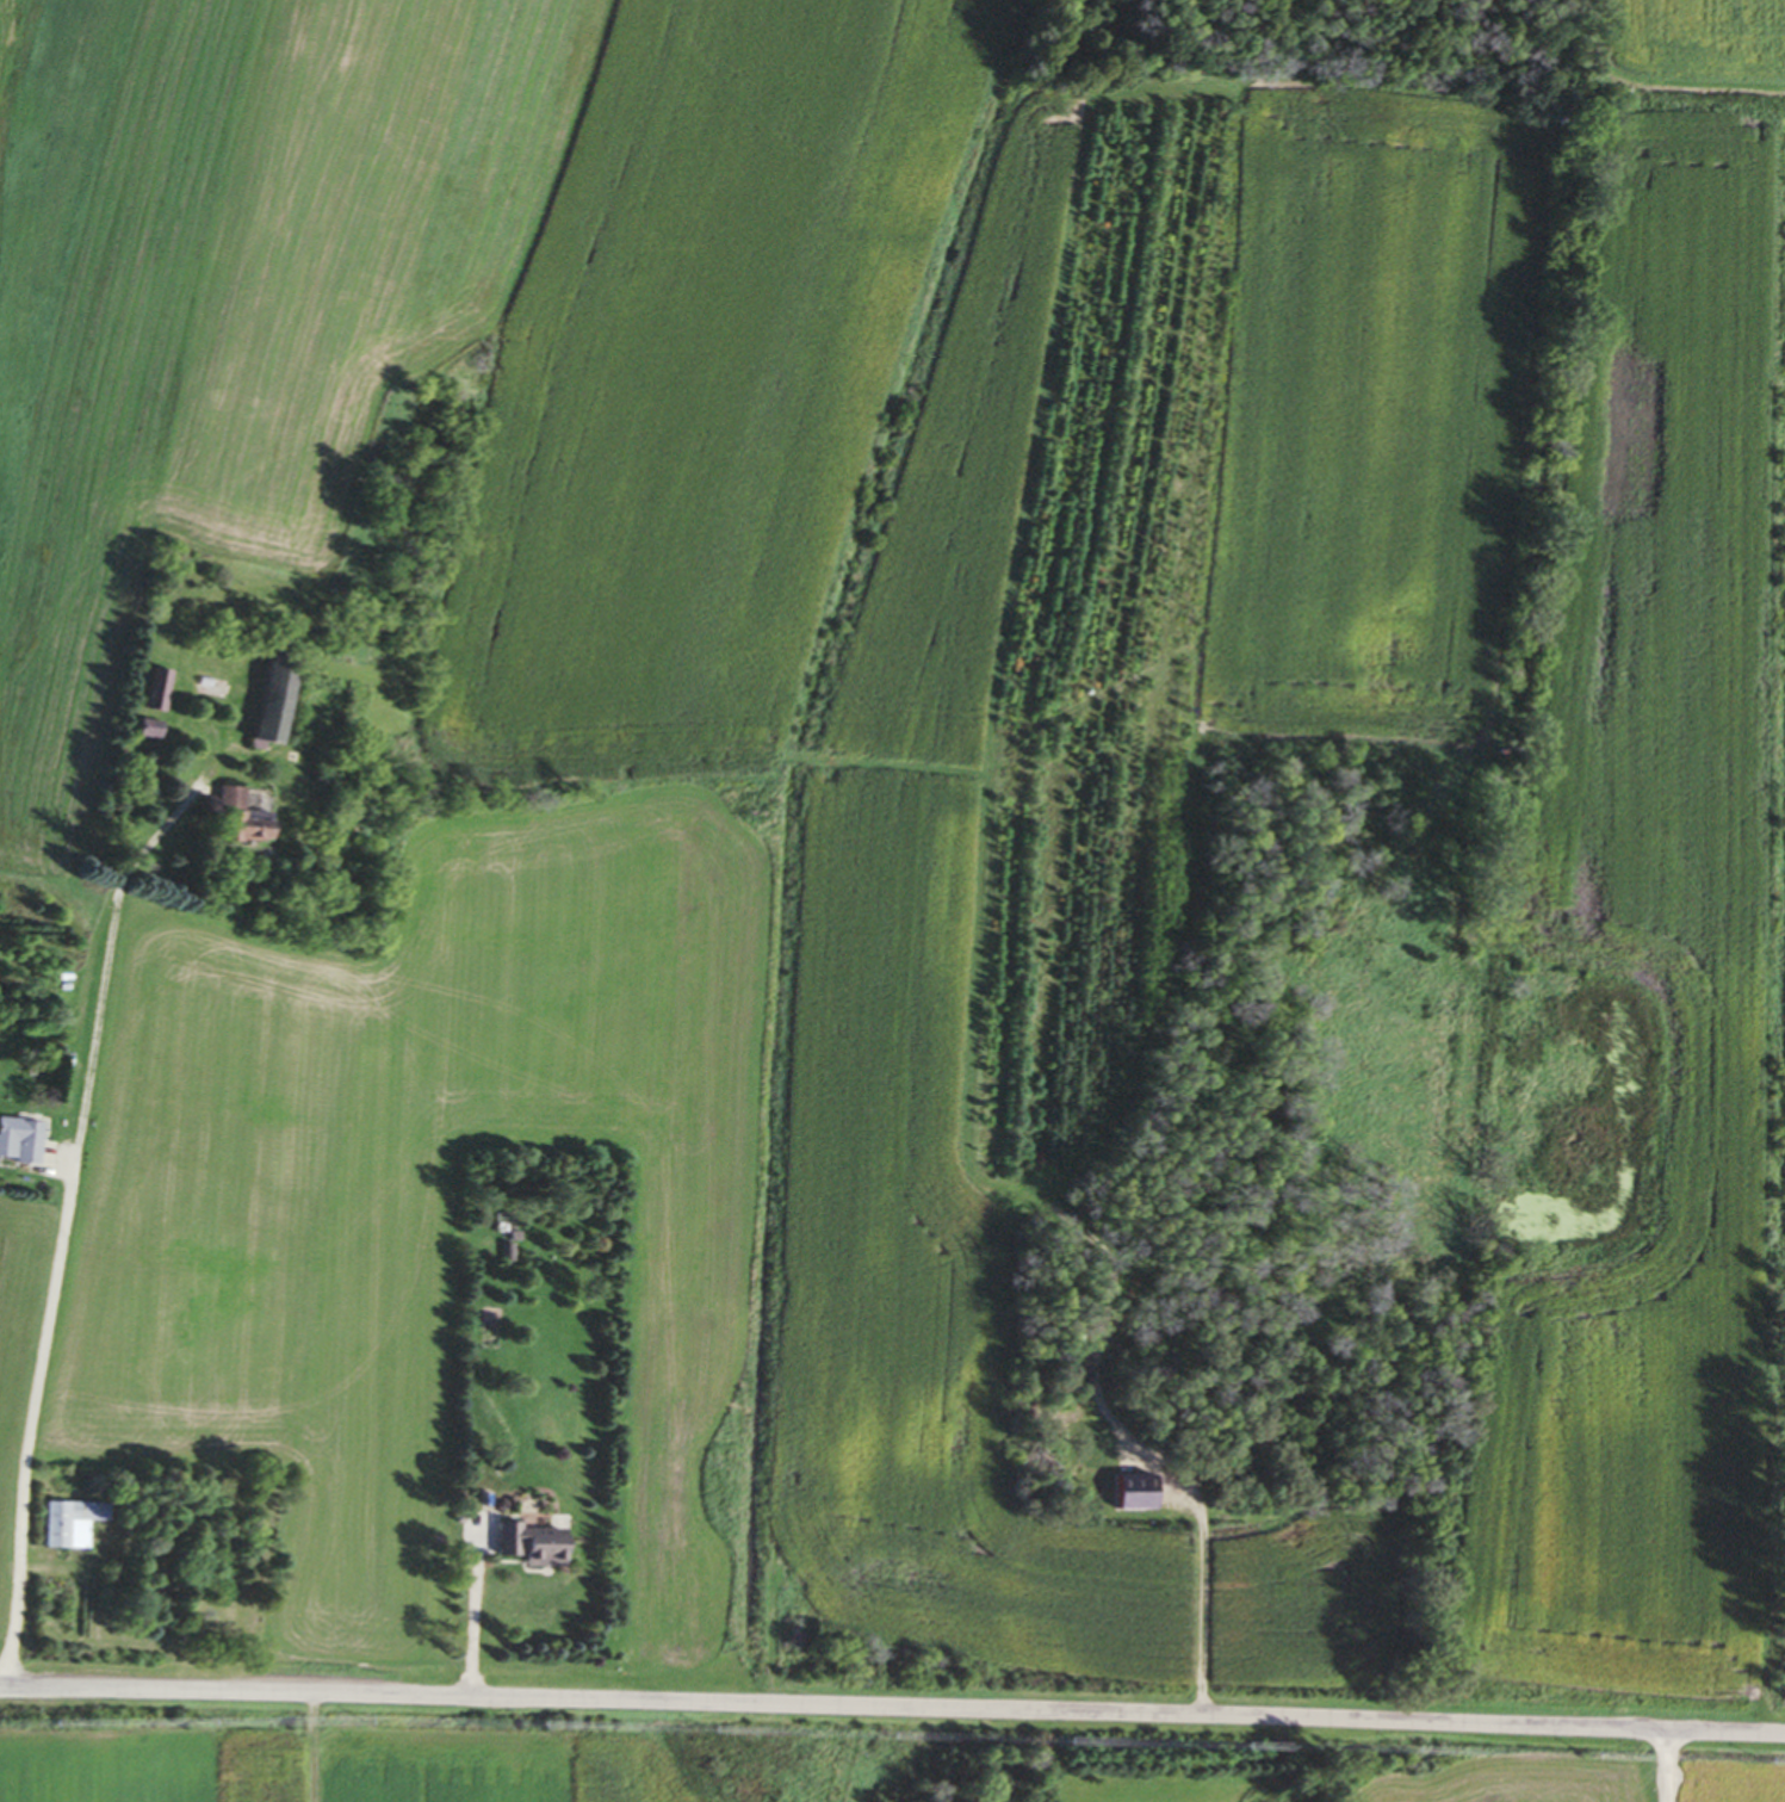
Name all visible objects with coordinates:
building: (151, 691)
building: (259, 699)
building: (143, 730)
building: (225, 818)
building: (1476, 1128)
building: (17, 1141)
road: (61, 1157)
building: (508, 1250)
building: (62, 1524)
building: (521, 1546)
road: (467, 1612)
road: (892, 1708)
road: (262, 1741)
road: (1666, 1766)

